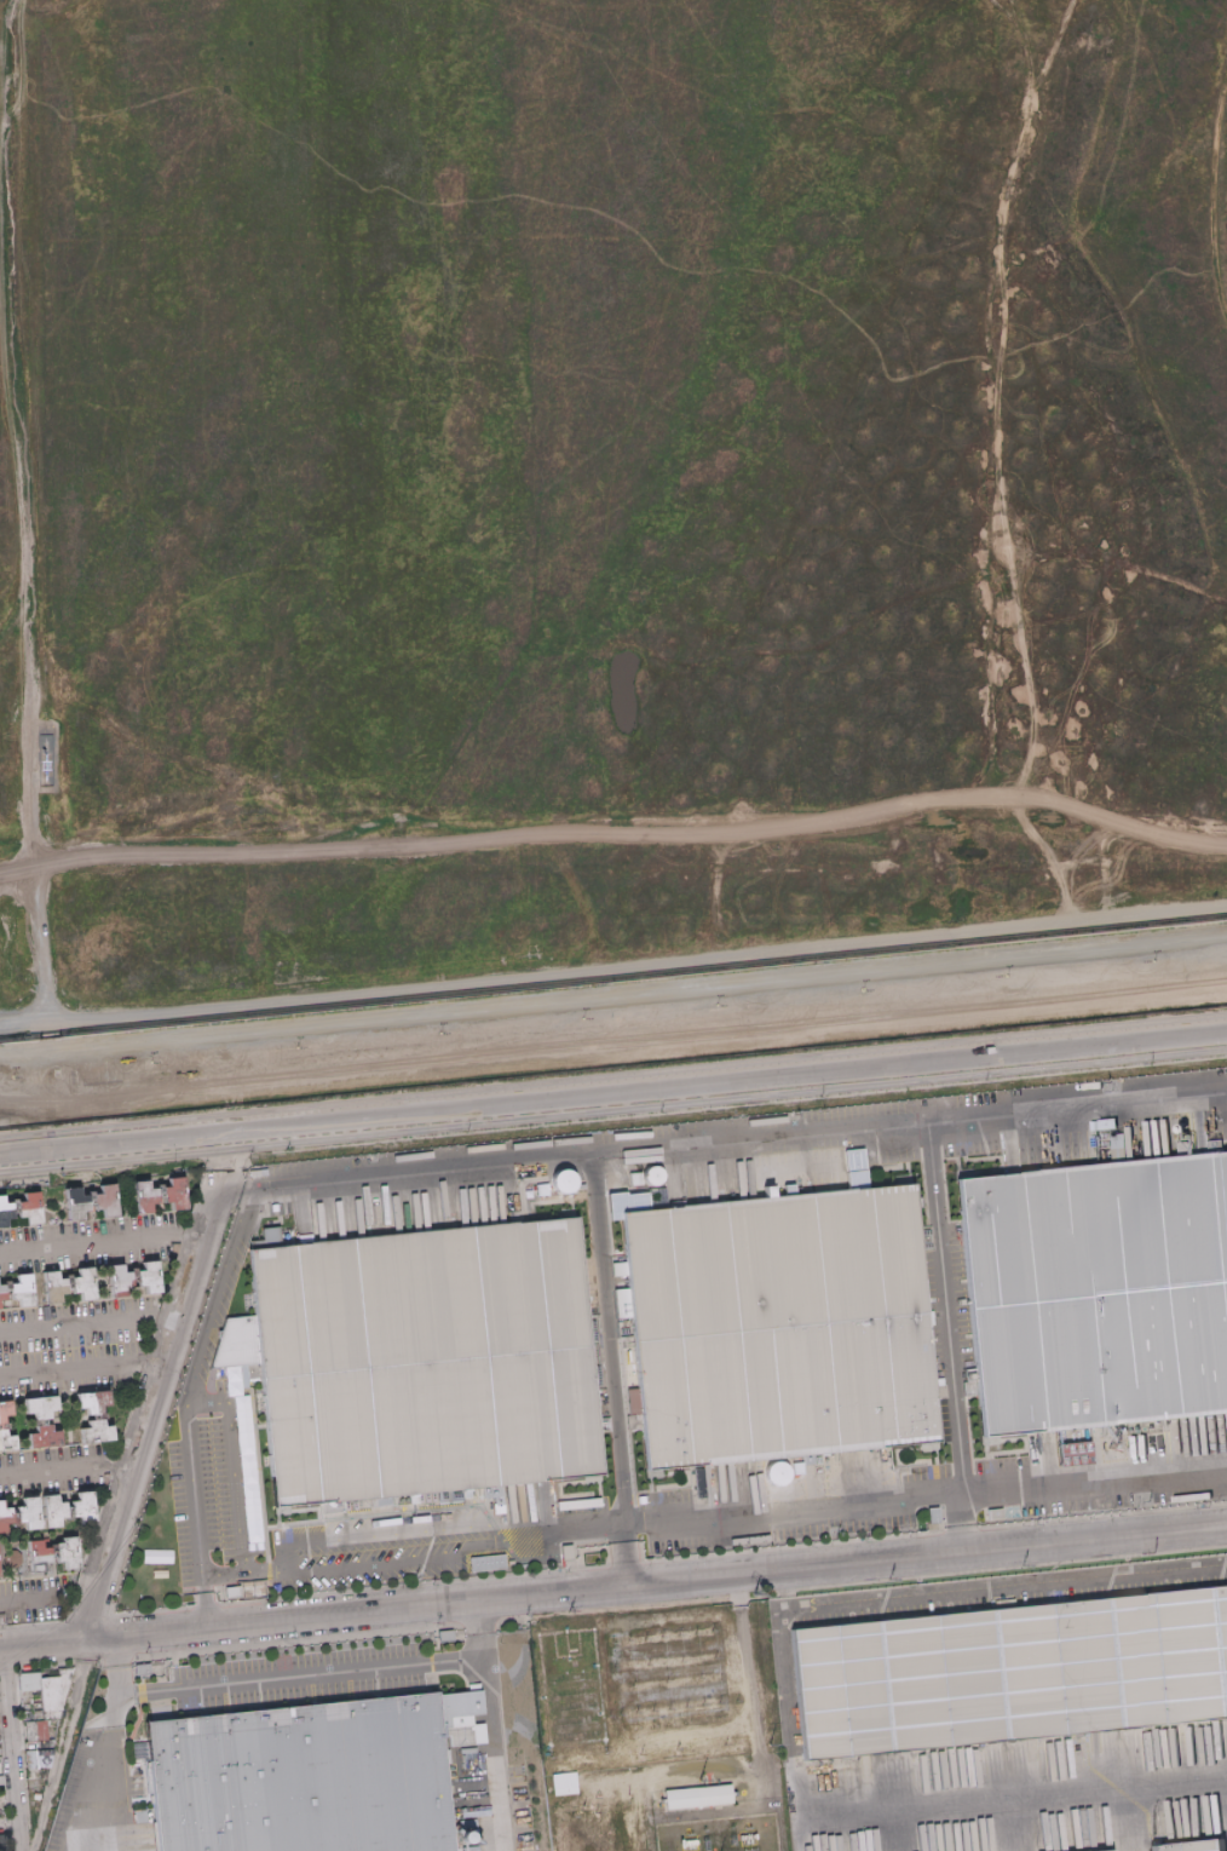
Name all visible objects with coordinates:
road: (8, 8)
road: (2, 17)
road: (2, 21)
road: (1049, 45)
road: (10, 68)
road: (1215, 197)
road: (987, 397)
building: (1002, 551)
road: (18, 720)
building: (35, 763)
road: (613, 835)
road: (142, 861)
road: (634, 960)
road: (613, 988)
road: (21, 1019)
road: (42, 1031)
road: (613, 1051)
road: (612, 1094)
road: (739, 1138)
building: (249, 1173)
building: (39, 1183)
building: (44, 1184)
building: (581, 1185)
road: (234, 1188)
building: (157, 1190)
building: (184, 1191)
building: (173, 1192)
building: (540, 1194)
building: (143, 1196)
building: (88, 1197)
building: (132, 1197)
building: (104, 1200)
building: (74, 1203)
building: (12, 1205)
building: (64, 1205)
building: (28, 1208)
building: (134, 1209)
building: (4, 1212)
road: (192, 1232)
road: (90, 1240)
building: (174, 1246)
building: (131, 1274)
building: (148, 1276)
building: (116, 1280)
building: (67, 1281)
building: (106, 1281)
building: (82, 1283)
parking lot: (217, 1284)
building: (52, 1286)
building: (4, 1287)
building: (41, 1287)
building: (21, 1289)
building: (1, 1293)
building: (1093, 1293)
building: (108, 1294)
road: (944, 1306)
building: (785, 1321)
road: (90, 1323)
building: (145, 1339)
road: (606, 1340)
building: (430, 1353)
road: (154, 1359)
road: (70, 1368)
road: (190, 1389)
building: (113, 1391)
building: (91, 1401)
building: (39, 1406)
road: (218, 1406)
building: (4, 1409)
road: (152, 1409)
building: (97, 1415)
building: (633, 1420)
building: (36, 1421)
building: (2, 1425)
building: (94, 1431)
building: (42, 1436)
building: (6, 1441)
road: (123, 1462)
road: (54, 1468)
parking lot: (1104, 1470)
building: (105, 1477)
building: (492, 1490)
building: (442, 1494)
building: (413, 1498)
building: (380, 1501)
parking lot: (789, 1501)
road: (860, 1504)
building: (81, 1507)
building: (51, 1510)
building: (67, 1512)
building: (27, 1513)
building: (993, 1513)
building: (933, 1514)
building: (4, 1516)
building: (12, 1518)
road: (962, 1523)
road: (381, 1529)
road: (149, 1534)
parking lot: (381, 1539)
power tower: (1154, 1548)
building: (50, 1550)
building: (565, 1551)
building: (65, 1552)
building: (571, 1552)
building: (35, 1554)
road: (626, 1556)
building: (25, 1557)
building: (11, 1558)
road: (387, 1558)
building: (2, 1560)
building: (486, 1562)
power tower: (1021, 1562)
building: (27, 1569)
road: (236, 1574)
power tower: (887, 1576)
road: (656, 1581)
road: (1002, 1586)
parking lot: (1009, 1587)
power tower: (751, 1588)
building: (231, 1592)
road: (19, 1605)
power tower: (568, 1608)
road: (200, 1614)
road: (474, 1632)
building: (443, 1636)
road: (44, 1643)
road: (122, 1646)
building: (140, 1668)
building: (1013, 1668)
parking lot: (296, 1674)
road: (324, 1675)
road: (120, 1677)
building: (569, 1677)
building: (63, 1683)
building: (570, 1691)
building: (50, 1692)
building: (572, 1706)
building: (51, 1714)
building: (574, 1720)
building: (0, 1726)
road: (789, 1729)
building: (35, 1730)
power substation: (661, 1730)
building: (576, 1734)
power tower: (767, 1740)
building: (44, 1744)
road: (105, 1747)
road: (15, 1749)
building: (42, 1758)
road: (485, 1758)
building: (30, 1759)
building: (0, 1761)
building: (313, 1776)
building: (40, 1777)
building: (0, 1780)
building: (566, 1783)
building: (703, 1797)
building: (1187, 1846)
building: (1102, 1850)

